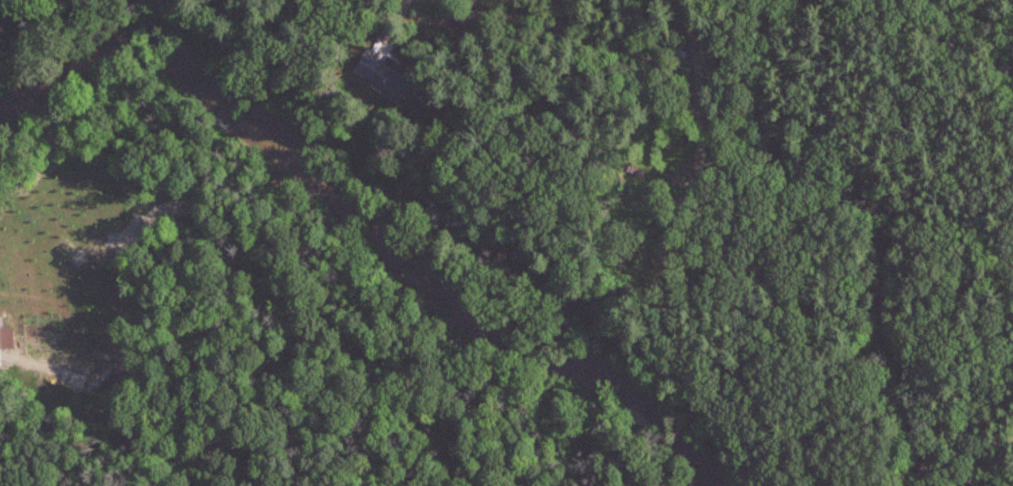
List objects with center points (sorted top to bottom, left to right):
river: (373, 218)

